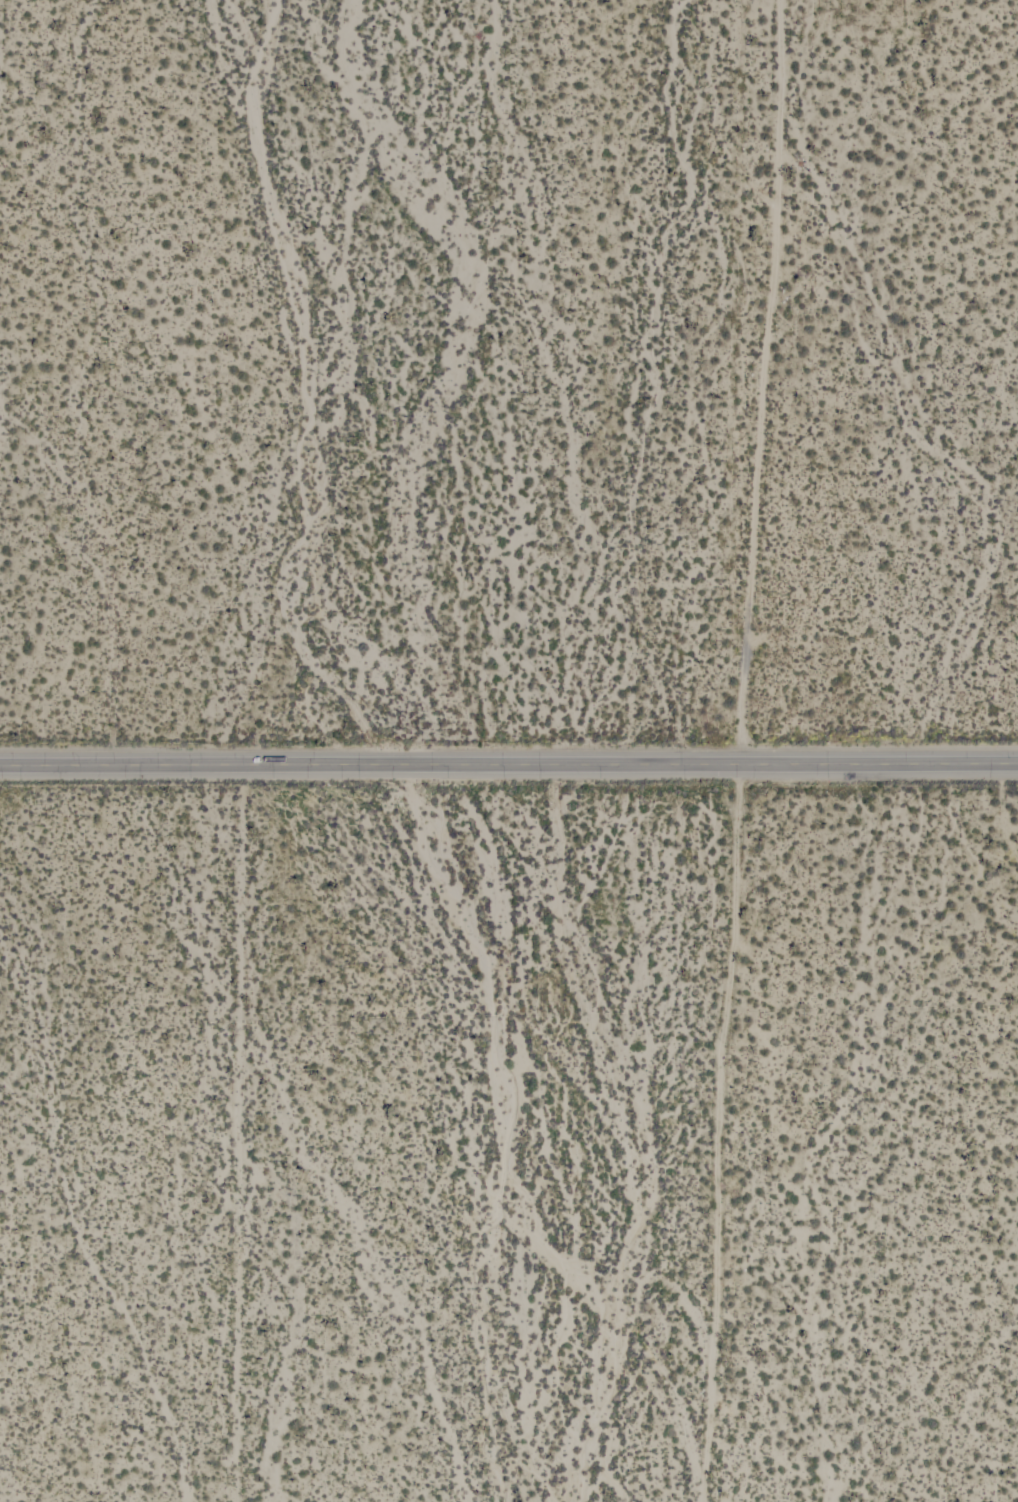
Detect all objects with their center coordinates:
road: (710, 762)
road: (191, 763)
road: (393, 763)

